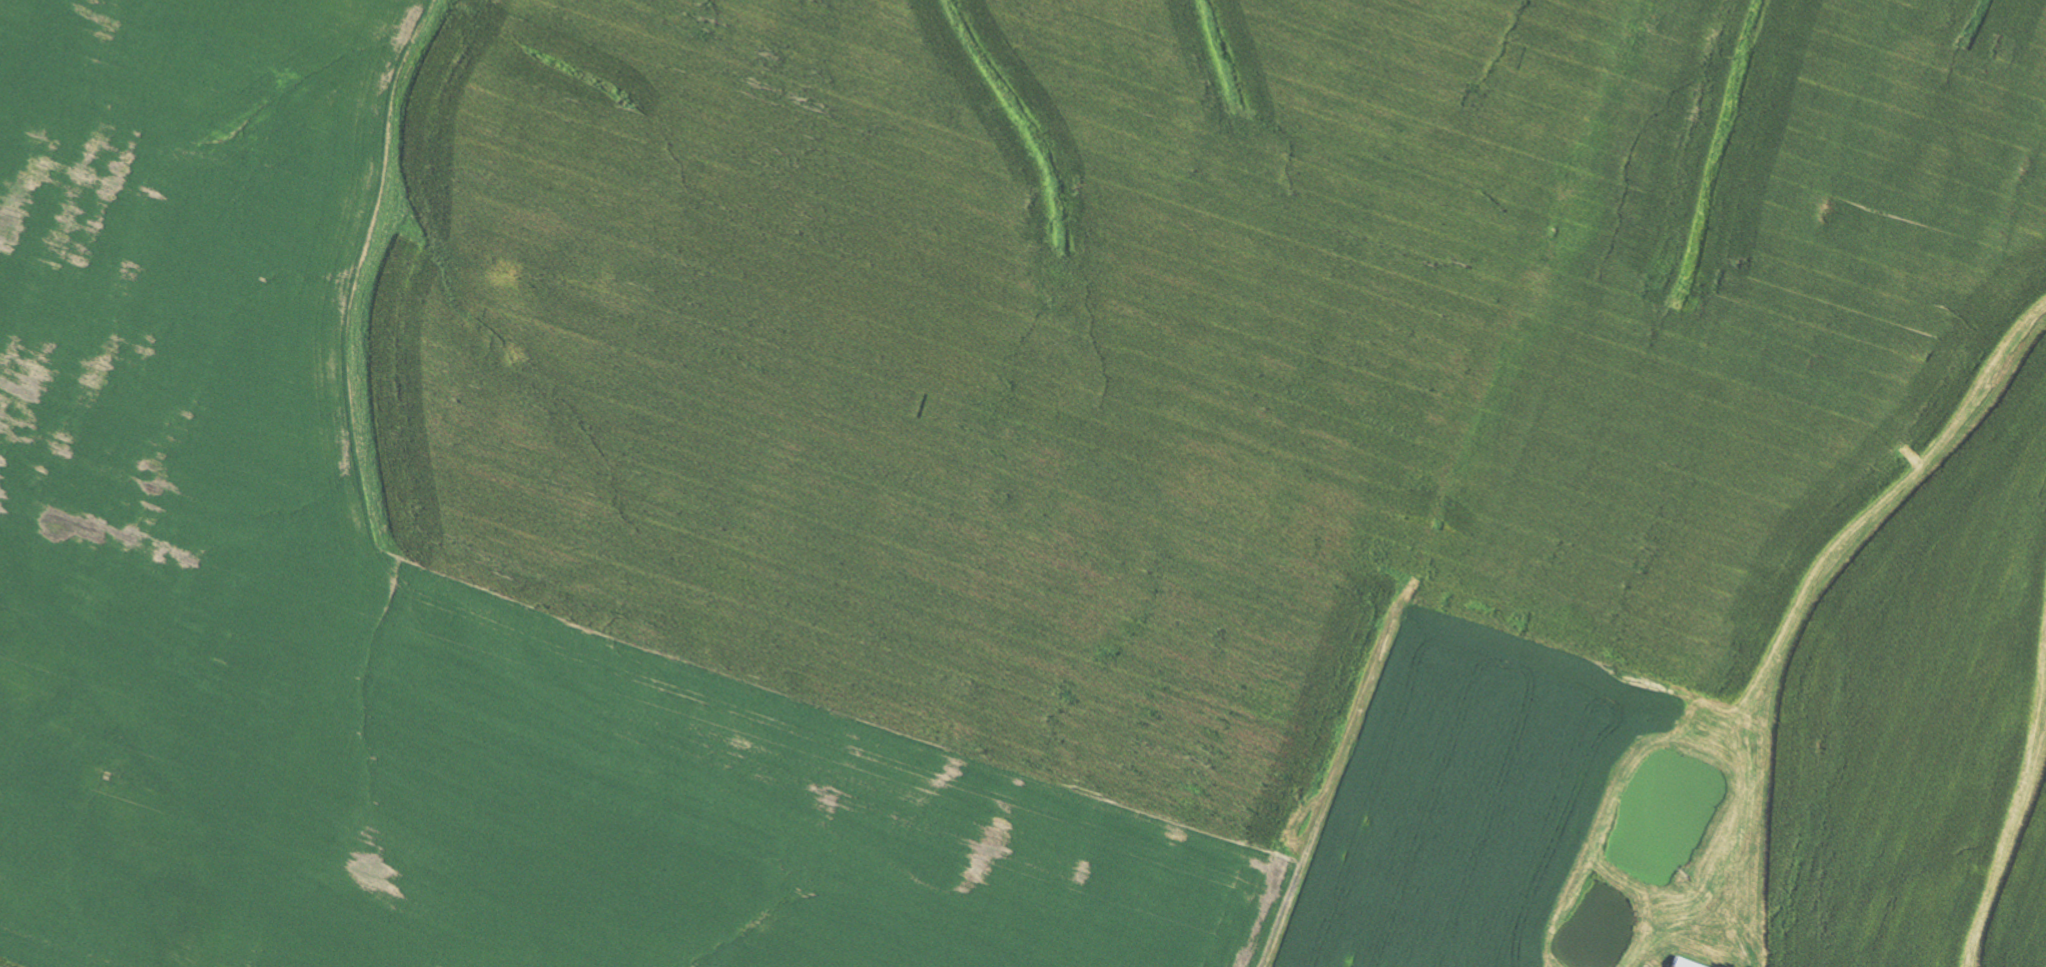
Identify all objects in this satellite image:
building: (1682, 963)

